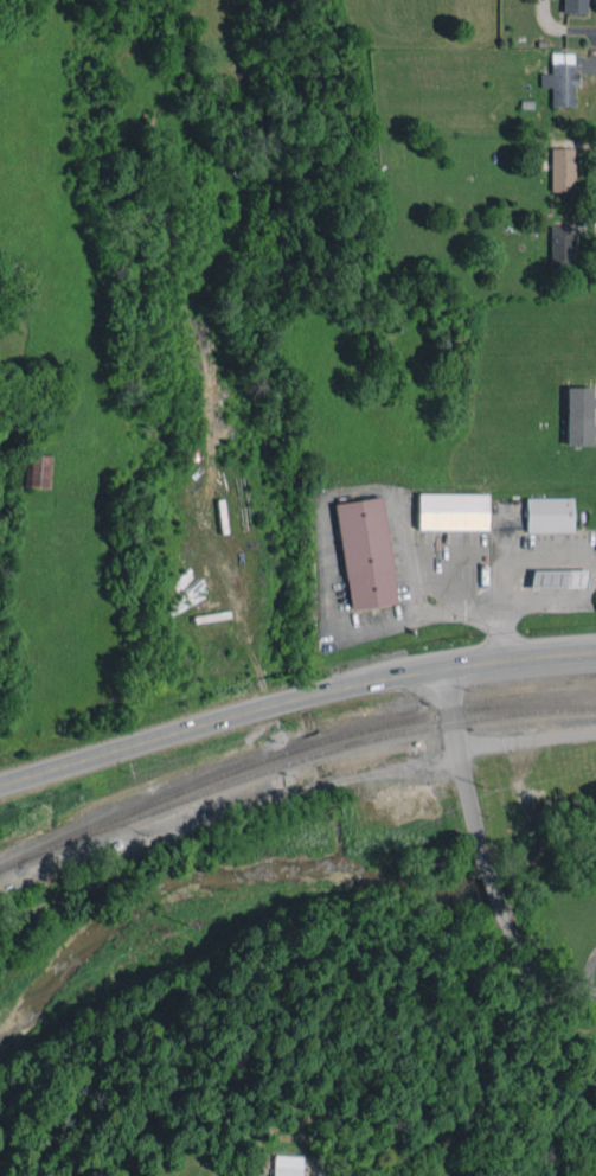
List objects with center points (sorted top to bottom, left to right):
building: (575, 6)
building: (560, 79)
building: (563, 168)
building: (560, 245)
building: (577, 415)
building: (36, 469)
building: (453, 511)
building: (549, 514)
building: (365, 552)
building: (558, 577)
road: (294, 697)
road: (528, 742)
railway: (289, 749)
railway: (294, 761)
road: (493, 878)
building: (286, 1165)

